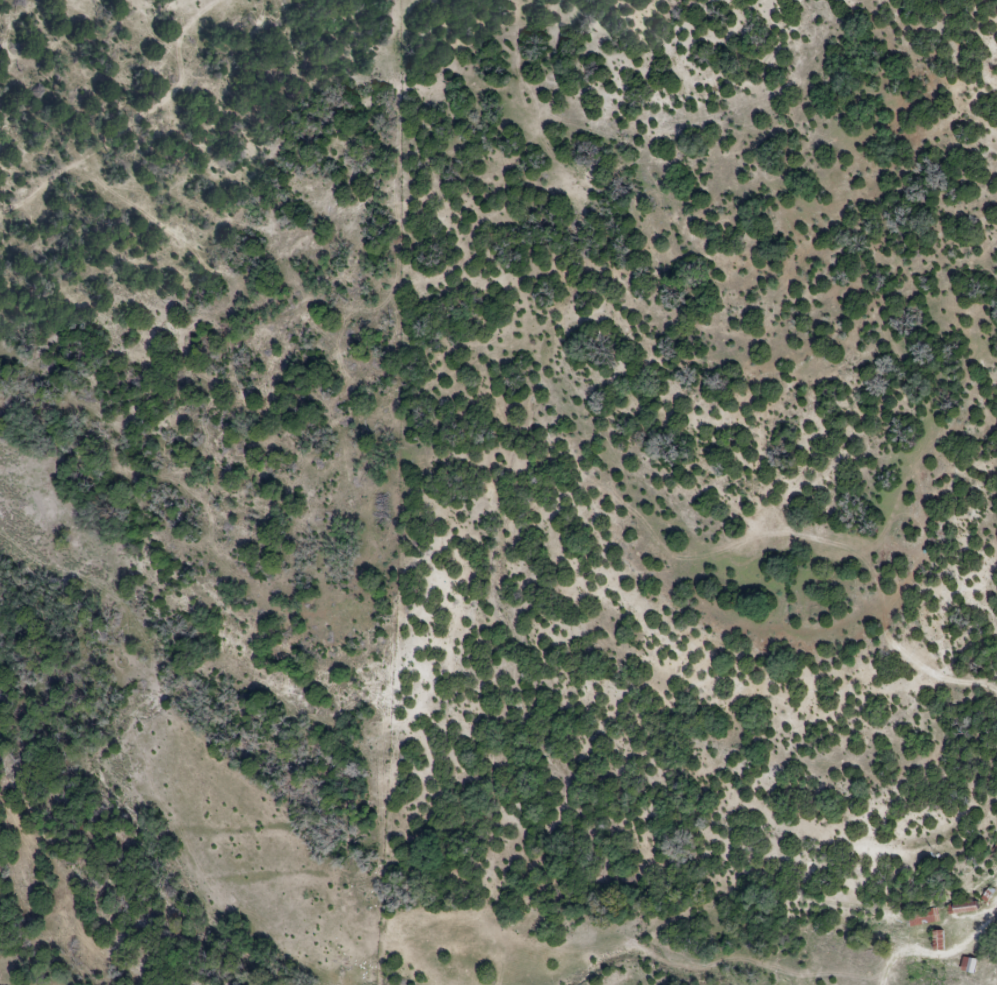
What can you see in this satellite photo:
building: (963, 906)
building: (921, 917)
building: (968, 964)

